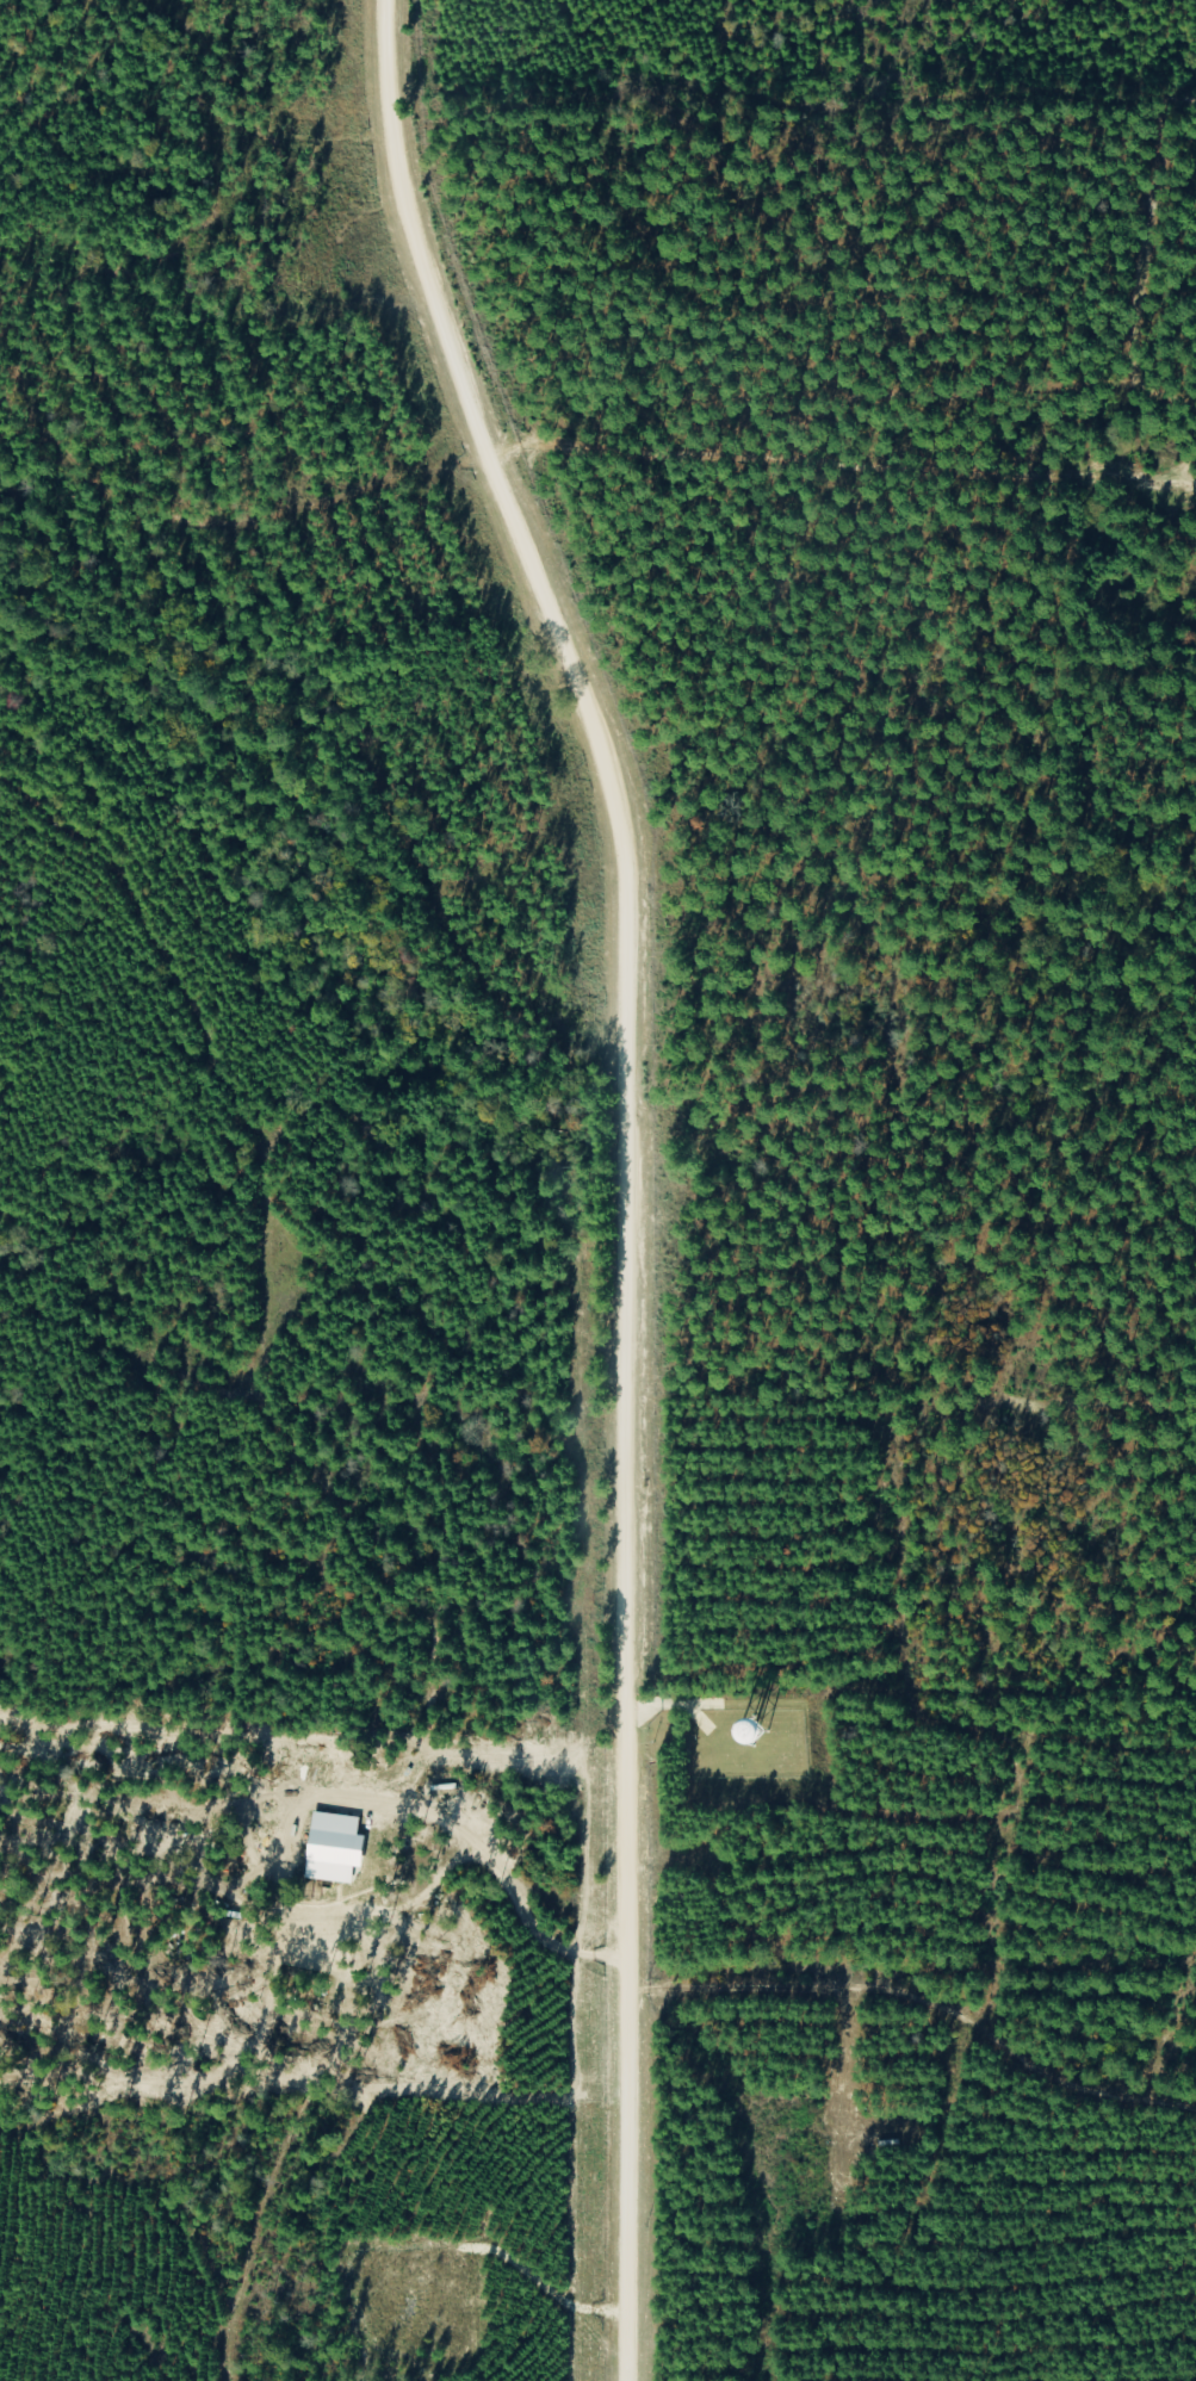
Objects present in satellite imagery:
road: (835, 421)
road: (624, 1164)

